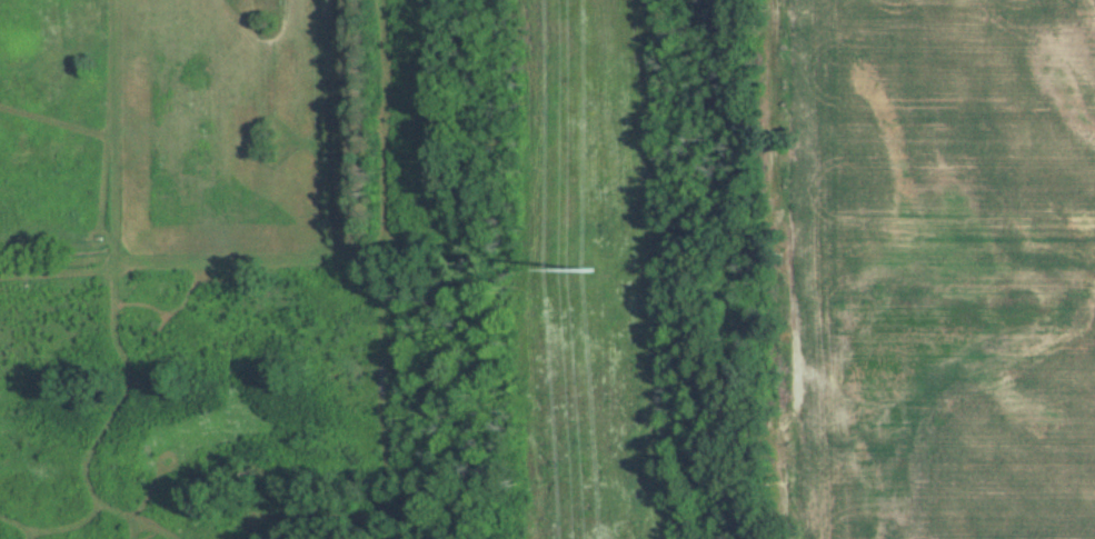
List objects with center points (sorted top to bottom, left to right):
power tower: (593, 269)

